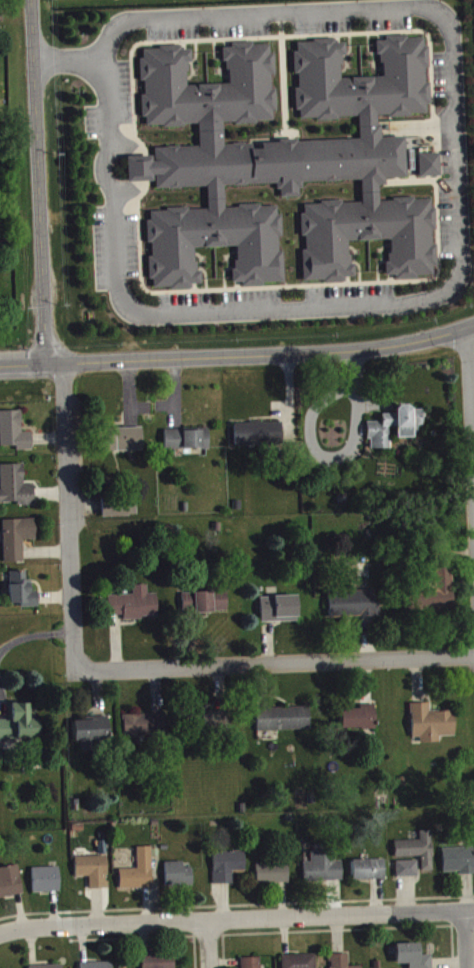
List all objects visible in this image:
building: (430, 169)
road: (40, 183)
road: (460, 237)
road: (237, 359)
road: (472, 375)
building: (395, 431)
building: (15, 436)
building: (260, 438)
building: (123, 444)
building: (188, 444)
building: (15, 490)
building: (121, 513)
road: (71, 520)
building: (18, 542)
building: (440, 594)
building: (23, 595)
building: (188, 606)
building: (211, 606)
building: (136, 609)
building: (353, 609)
building: (280, 613)
road: (35, 634)
road: (276, 668)
building: (284, 723)
building: (360, 723)
building: (207, 726)
building: (19, 728)
building: (432, 728)
building: (145, 731)
building: (92, 737)
building: (418, 854)
building: (459, 865)
building: (228, 870)
building: (324, 872)
building: (408, 873)
building: (369, 874)
building: (94, 875)
building: (139, 877)
building: (273, 878)
building: (179, 880)
building: (46, 884)
building: (10, 886)
road: (236, 925)
road: (469, 942)
road: (211, 947)
building: (412, 959)
building: (160, 963)
building: (300, 963)
building: (340, 963)
building: (252, 965)
building: (100, 967)

